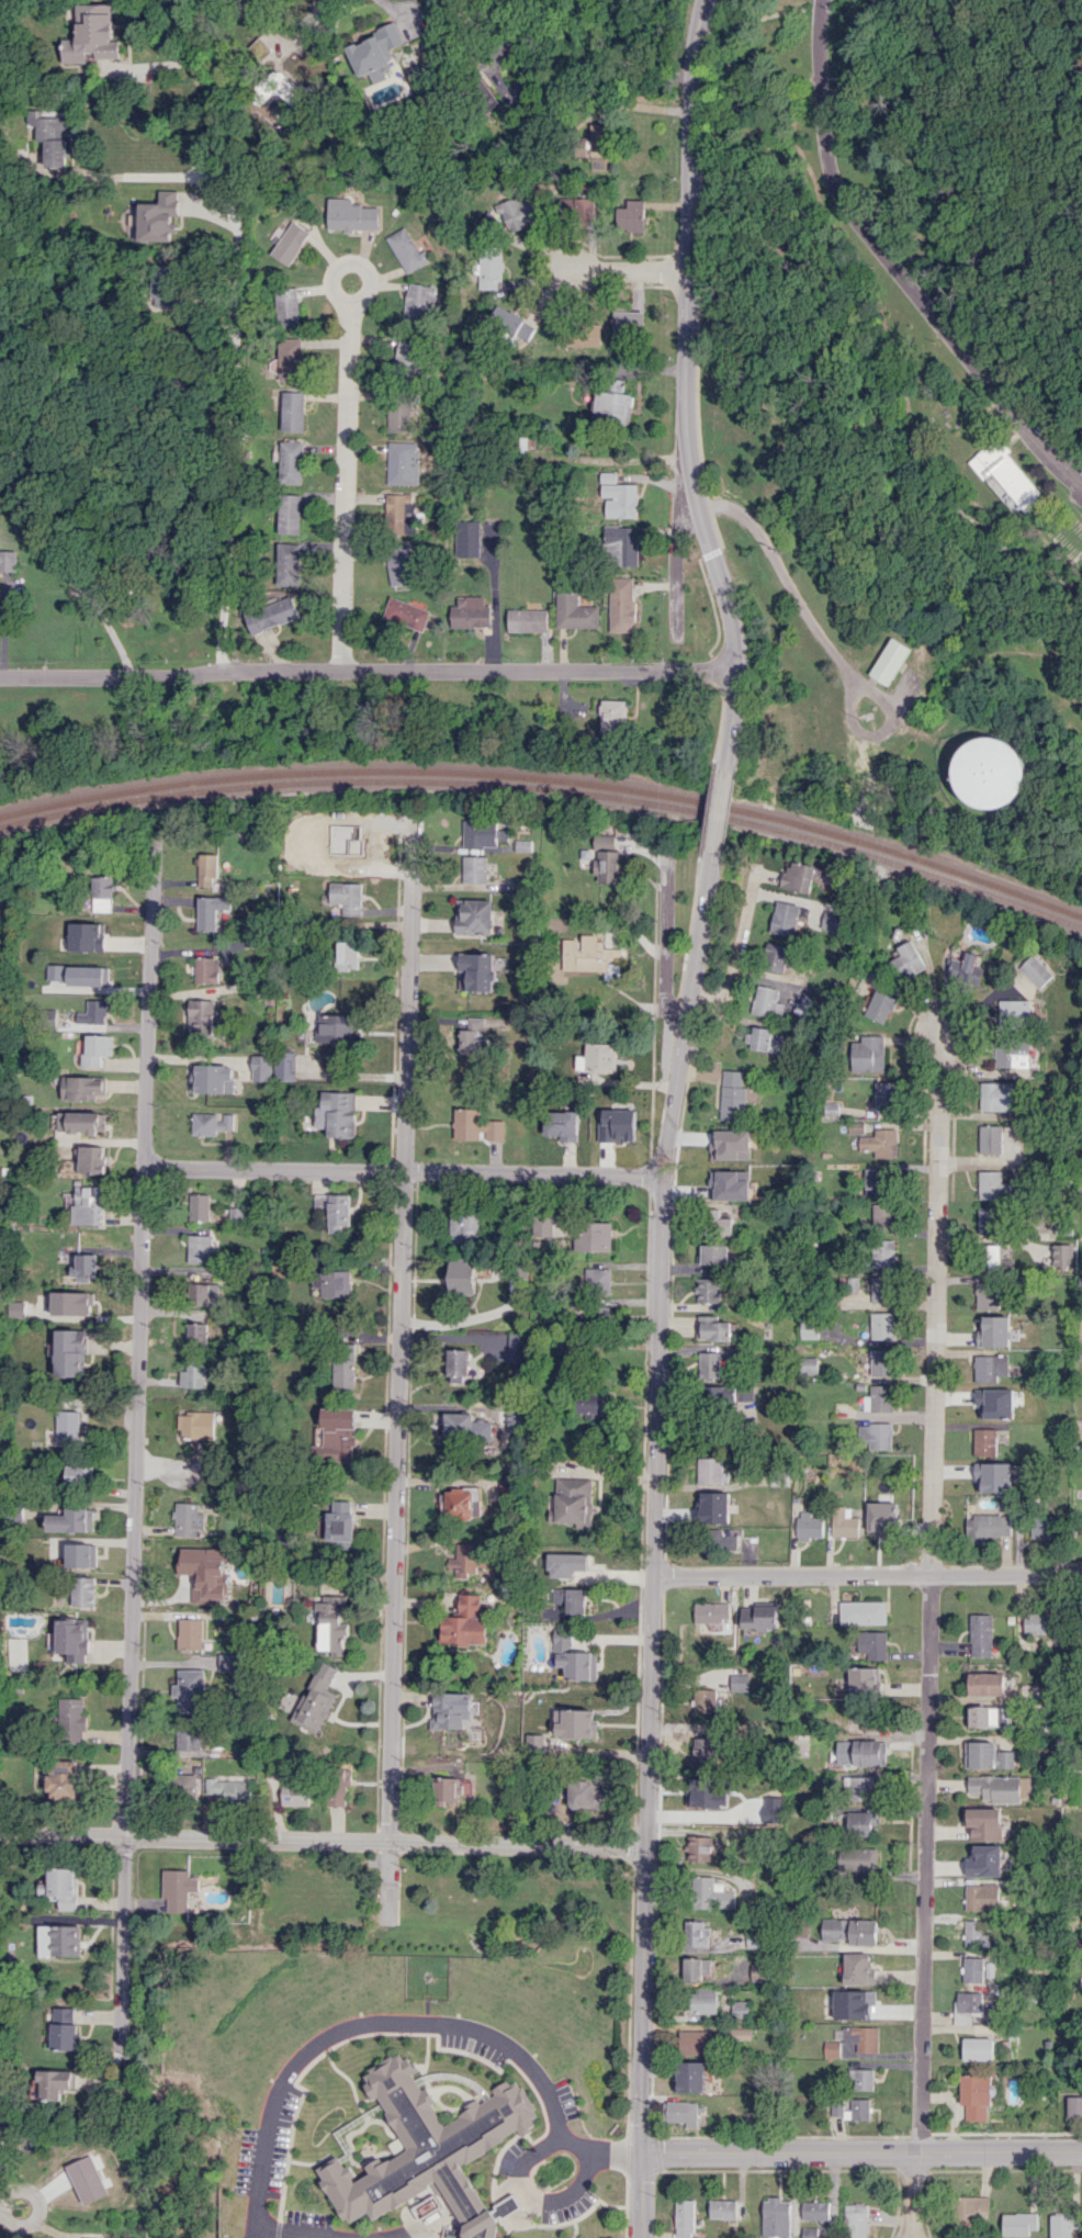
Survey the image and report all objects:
building: (92, 35)
road: (200, 42)
building: (374, 49)
road: (601, 57)
road: (905, 87)
building: (53, 135)
building: (597, 140)
road: (128, 176)
building: (577, 207)
building: (518, 212)
building: (351, 215)
building: (631, 216)
building: (290, 241)
building: (406, 250)
road: (893, 265)
building: (489, 267)
road: (627, 270)
building: (164, 284)
road: (340, 292)
building: (419, 302)
building: (288, 306)
building: (628, 322)
building: (510, 323)
building: (408, 357)
building: (291, 359)
road: (685, 382)
building: (613, 405)
park: (909, 406)
road: (230, 408)
building: (294, 411)
building: (397, 417)
road: (628, 459)
building: (291, 462)
building: (403, 462)
building: (1008, 473)
road: (347, 483)
building: (619, 496)
building: (399, 513)
building: (291, 514)
building: (467, 538)
building: (622, 546)
building: (290, 563)
building: (399, 564)
building: (622, 604)
building: (575, 611)
building: (407, 612)
building: (471, 612)
building: (272, 615)
building: (528, 620)
road: (105, 625)
road: (3, 628)
road: (822, 642)
building: (889, 661)
road: (365, 668)
building: (613, 715)
building: (989, 771)
railway: (549, 779)
railway: (549, 789)
road: (717, 821)
building: (483, 833)
building: (522, 845)
building: (607, 859)
building: (336, 862)
building: (474, 869)
building: (206, 870)
building: (798, 876)
building: (101, 893)
building: (347, 897)
building: (211, 911)
building: (473, 916)
building: (786, 916)
building: (831, 920)
building: (86, 936)
road: (664, 942)
road: (736, 951)
building: (348, 955)
building: (588, 955)
building: (774, 956)
building: (908, 959)
building: (966, 968)
building: (207, 970)
building: (1036, 970)
building: (476, 971)
building: (80, 975)
building: (766, 1001)
building: (804, 1006)
building: (880, 1006)
building: (93, 1012)
building: (1014, 1013)
building: (46, 1017)
building: (205, 1019)
building: (336, 1028)
building: (767, 1041)
building: (472, 1043)
building: (97, 1049)
building: (1012, 1053)
building: (868, 1054)
building: (597, 1057)
building: (285, 1065)
building: (261, 1067)
road: (351, 1077)
building: (213, 1078)
building: (83, 1088)
building: (886, 1094)
building: (731, 1095)
building: (996, 1095)
building: (831, 1109)
building: (338, 1113)
building: (81, 1122)
building: (212, 1123)
building: (562, 1125)
building: (476, 1126)
building: (991, 1138)
building: (879, 1143)
building: (725, 1144)
building: (92, 1159)
road: (401, 1171)
building: (710, 1179)
building: (876, 1181)
building: (993, 1185)
building: (89, 1205)
building: (200, 1206)
building: (339, 1213)
building: (883, 1216)
building: (988, 1219)
building: (718, 1223)
building: (546, 1224)
building: (464, 1225)
building: (593, 1236)
building: (201, 1248)
building: (883, 1252)
building: (713, 1253)
building: (1062, 1256)
building: (991, 1258)
building: (83, 1267)
building: (462, 1277)
building: (598, 1280)
building: (334, 1283)
building: (881, 1289)
building: (708, 1290)
building: (205, 1294)
building: (987, 1295)
building: (71, 1303)
building: (16, 1308)
building: (882, 1325)
building: (712, 1328)
building: (808, 1328)
building: (205, 1331)
building: (994, 1331)
building: (515, 1347)
building: (70, 1352)
building: (880, 1361)
building: (708, 1364)
building: (808, 1364)
building: (459, 1365)
building: (990, 1368)
building: (345, 1369)
road: (399, 1373)
building: (194, 1374)
building: (719, 1396)
building: (878, 1398)
building: (589, 1404)
building: (987, 1404)
building: (1026, 1407)
building: (198, 1425)
building: (460, 1425)
building: (67, 1426)
building: (338, 1435)
building: (875, 1436)
building: (984, 1441)
road: (134, 1455)
building: (710, 1470)
building: (78, 1475)
building: (573, 1500)
building: (461, 1503)
building: (714, 1507)
building: (878, 1511)
road: (653, 1516)
building: (188, 1518)
building: (72, 1520)
building: (341, 1521)
building: (844, 1521)
building: (808, 1526)
building: (988, 1526)
building: (1042, 1527)
building: (720, 1539)
building: (81, 1554)
building: (466, 1560)
building: (565, 1564)
building: (204, 1572)
road: (866, 1575)
road: (929, 1589)
building: (83, 1590)
building: (570, 1599)
building: (711, 1611)
building: (863, 1611)
building: (759, 1616)
building: (1037, 1622)
building: (464, 1623)
building: (333, 1624)
building: (190, 1633)
building: (980, 1634)
building: (72, 1639)
building: (871, 1644)
building: (573, 1656)
building: (229, 1662)
building: (865, 1680)
building: (985, 1684)
building: (190, 1689)
building: (317, 1698)
building: (705, 1699)
building: (450, 1710)
building: (989, 1716)
building: (72, 1720)
building: (576, 1723)
building: (188, 1740)
building: (533, 1746)
building: (701, 1751)
building: (860, 1752)
building: (987, 1755)
building: (64, 1779)
building: (338, 1785)
building: (184, 1787)
building: (451, 1788)
building: (859, 1788)
building: (995, 1788)
building: (230, 1789)
building: (294, 1790)
building: (582, 1793)
building: (700, 1802)
building: (860, 1822)
building: (983, 1823)
road: (323, 1840)
building: (698, 1848)
building: (857, 1859)
building: (983, 1860)
building: (63, 1887)
building: (179, 1888)
building: (711, 1893)
building: (981, 1897)
building: (850, 1931)
building: (696, 1933)
building: (974, 1934)
building: (59, 1941)
building: (696, 1968)
building: (858, 1969)
building: (972, 1969)
building: (758, 1971)
building: (703, 2001)
building: (968, 2001)
building: (740, 2010)
road: (401, 2023)
building: (65, 2028)
building: (742, 2034)
building: (861, 2038)
building: (694, 2042)
building: (831, 2048)
building: (978, 2048)
building: (690, 2077)
building: (860, 2079)
building: (55, 2082)
building: (976, 2095)
building: (1074, 2106)
building: (849, 2108)
building: (683, 2112)
parking lot: (267, 2144)
building: (426, 2145)
road: (861, 2152)
building: (86, 2179)
road: (640, 2195)
road: (913, 2197)
road: (527, 2200)
road: (38, 2206)
building: (722, 2208)
building: (814, 2209)
building: (971, 2209)
building: (775, 2217)
parking lot: (307, 2218)
building: (684, 2218)
building: (855, 2220)
building: (1018, 2223)
road: (916, 2224)
building: (1063, 2225)
building: (481, 2226)
building: (813, 2231)
road: (280, 2235)
road: (397, 2236)

